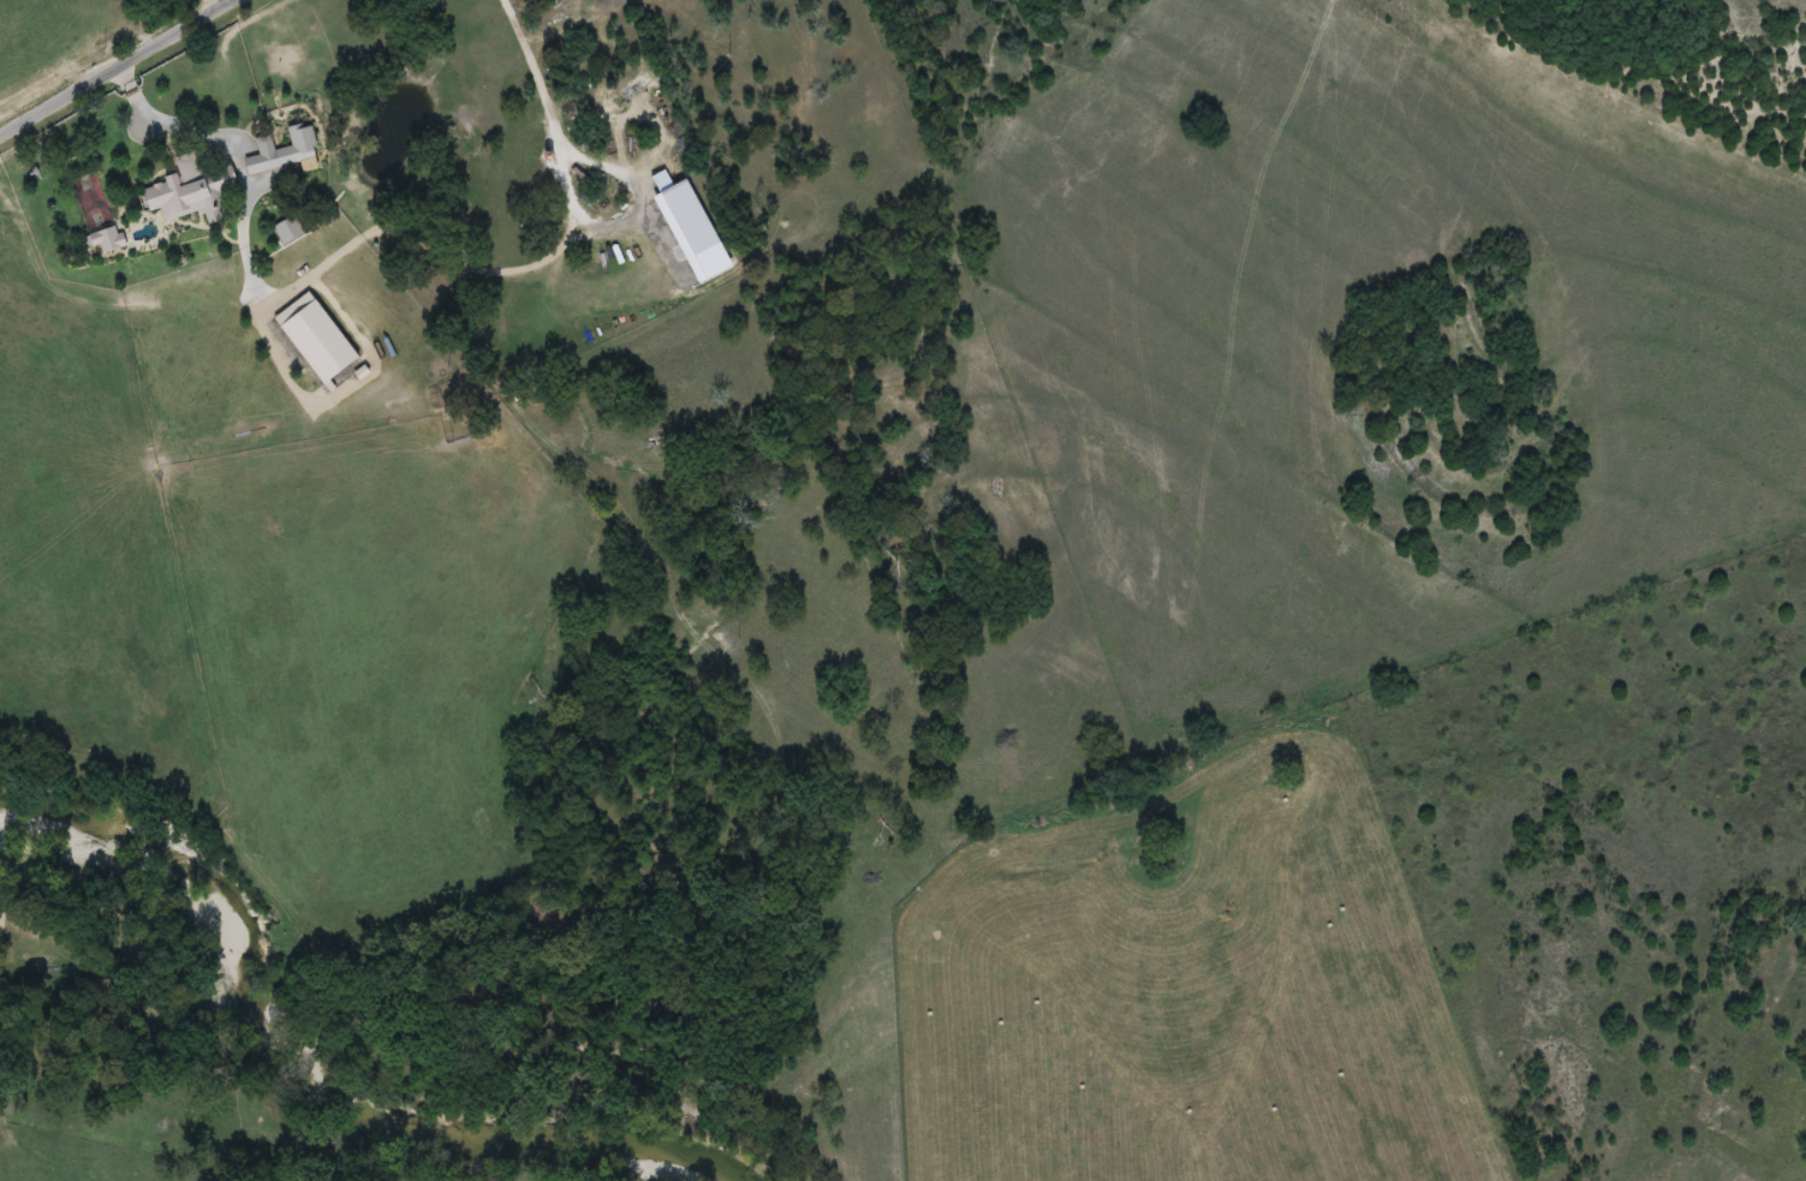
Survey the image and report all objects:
road: (118, 66)
building: (187, 187)
building: (685, 217)
building: (102, 239)
building: (310, 339)

